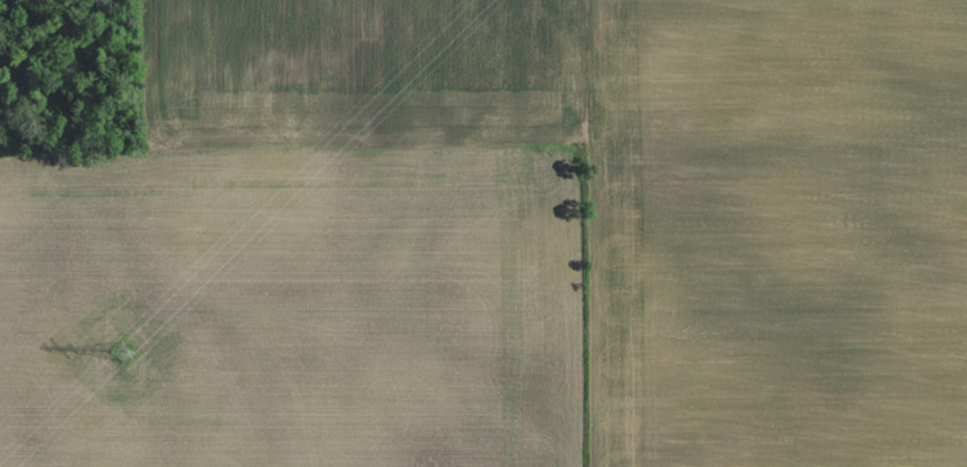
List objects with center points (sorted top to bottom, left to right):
power tower: (124, 350)

